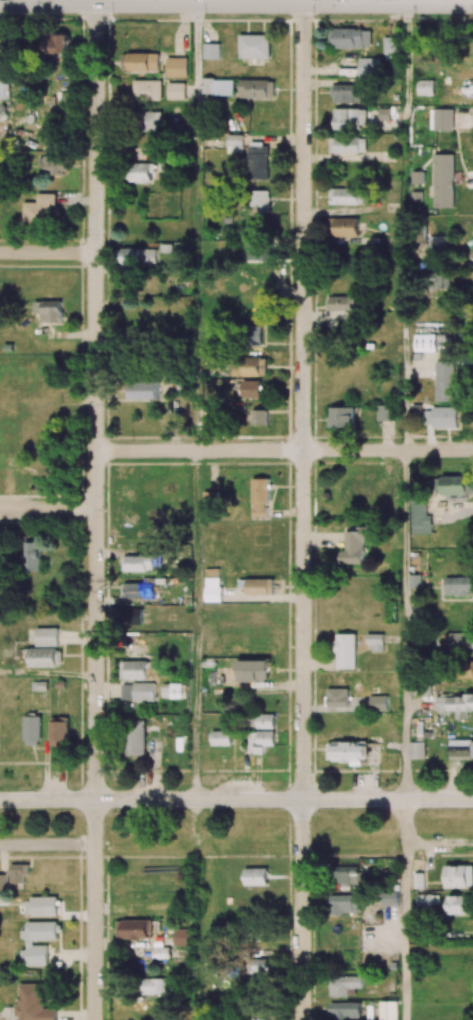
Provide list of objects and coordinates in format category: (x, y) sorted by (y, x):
road: (48, 2)
road: (236, 5)
street lamp: (38, 15)
street lamp: (113, 16)
street lamp: (205, 16)
street lamp: (313, 16)
street lamp: (415, 18)
building: (350, 38)
building: (60, 43)
building: (391, 45)
building: (254, 46)
road: (197, 51)
building: (212, 51)
building: (140, 62)
building: (176, 67)
building: (369, 67)
building: (460, 73)
building: (4, 82)
building: (218, 86)
building: (425, 87)
building: (257, 88)
building: (147, 90)
building: (176, 91)
building: (347, 93)
building: (385, 114)
building: (350, 118)
building: (442, 119)
building: (152, 121)
building: (234, 144)
building: (347, 144)
building: (258, 161)
building: (53, 165)
building: (139, 172)
building: (443, 180)
building: (346, 196)
building: (260, 200)
building: (39, 208)
building: (344, 226)
road: (405, 228)
building: (437, 243)
building: (259, 251)
road: (48, 253)
building: (137, 256)
building: (438, 280)
building: (341, 303)
building: (49, 310)
building: (254, 335)
building: (426, 342)
building: (249, 366)
building: (445, 381)
building: (251, 388)
building: (143, 389)
road: (95, 402)
road: (303, 402)
building: (386, 412)
building: (258, 417)
building: (342, 417)
building: (441, 417)
road: (284, 450)
building: (457, 484)
building: (355, 489)
building: (388, 489)
building: (260, 497)
building: (210, 498)
road: (47, 508)
building: (419, 516)
building: (356, 543)
building: (0, 554)
building: (32, 556)
building: (138, 563)
building: (415, 581)
building: (212, 584)
building: (459, 585)
building: (257, 586)
building: (138, 590)
building: (132, 616)
road: (196, 625)
road: (404, 625)
building: (46, 637)
building: (461, 640)
building: (376, 642)
building: (345, 651)
building: (43, 657)
building: (470, 669)
building: (134, 670)
building: (253, 670)
building: (38, 686)
building: (172, 690)
building: (138, 692)
building: (337, 697)
building: (378, 703)
building: (455, 704)
building: (265, 721)
building: (31, 730)
building: (59, 731)
building: (136, 737)
building: (221, 738)
building: (259, 741)
building: (461, 749)
building: (417, 750)
building: (347, 751)
road: (236, 799)
road: (249, 841)
road: (438, 841)
road: (47, 842)
building: (349, 874)
building: (18, 875)
building: (256, 876)
building: (459, 876)
building: (419, 880)
building: (3, 882)
building: (390, 897)
building: (2, 898)
building: (428, 899)
building: (345, 904)
building: (456, 905)
building: (41, 906)
road: (196, 909)
road: (302, 909)
road: (404, 909)
road: (94, 910)
building: (134, 929)
building: (218, 932)
building: (182, 937)
building: (30, 942)
building: (262, 965)
building: (343, 984)
building: (159, 986)
building: (33, 1004)
building: (345, 1010)
building: (389, 1010)

